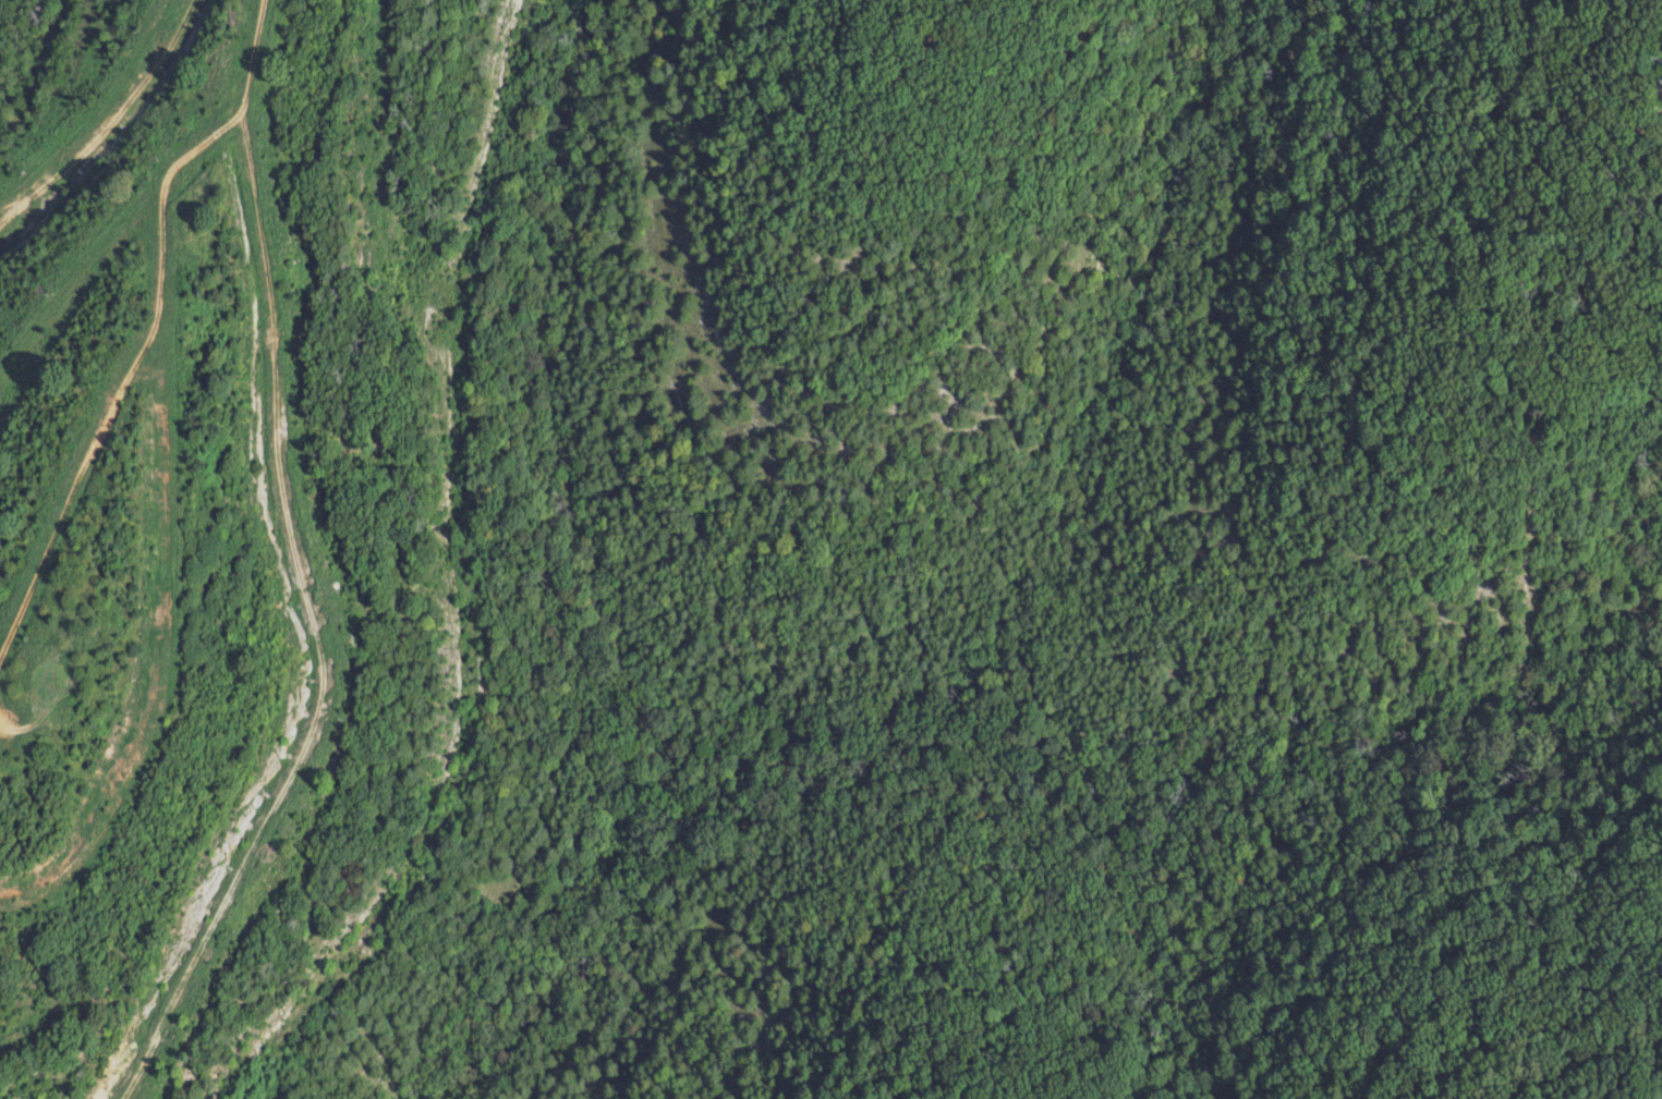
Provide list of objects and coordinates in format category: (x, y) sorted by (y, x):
road: (106, 123)
road: (125, 364)
road: (295, 571)
road: (15, 729)

